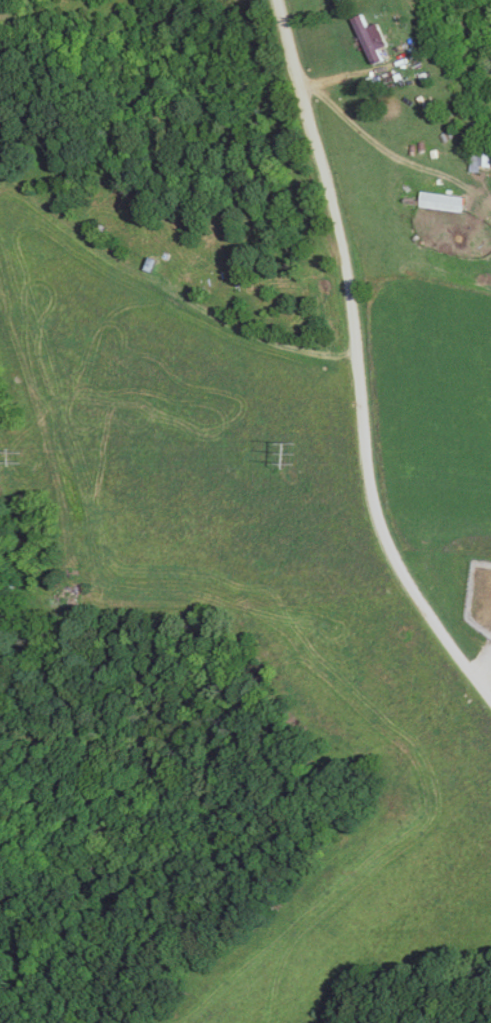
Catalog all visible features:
building: (387, 10)
building: (478, 156)
building: (439, 202)
road: (357, 362)
power substation: (478, 596)

